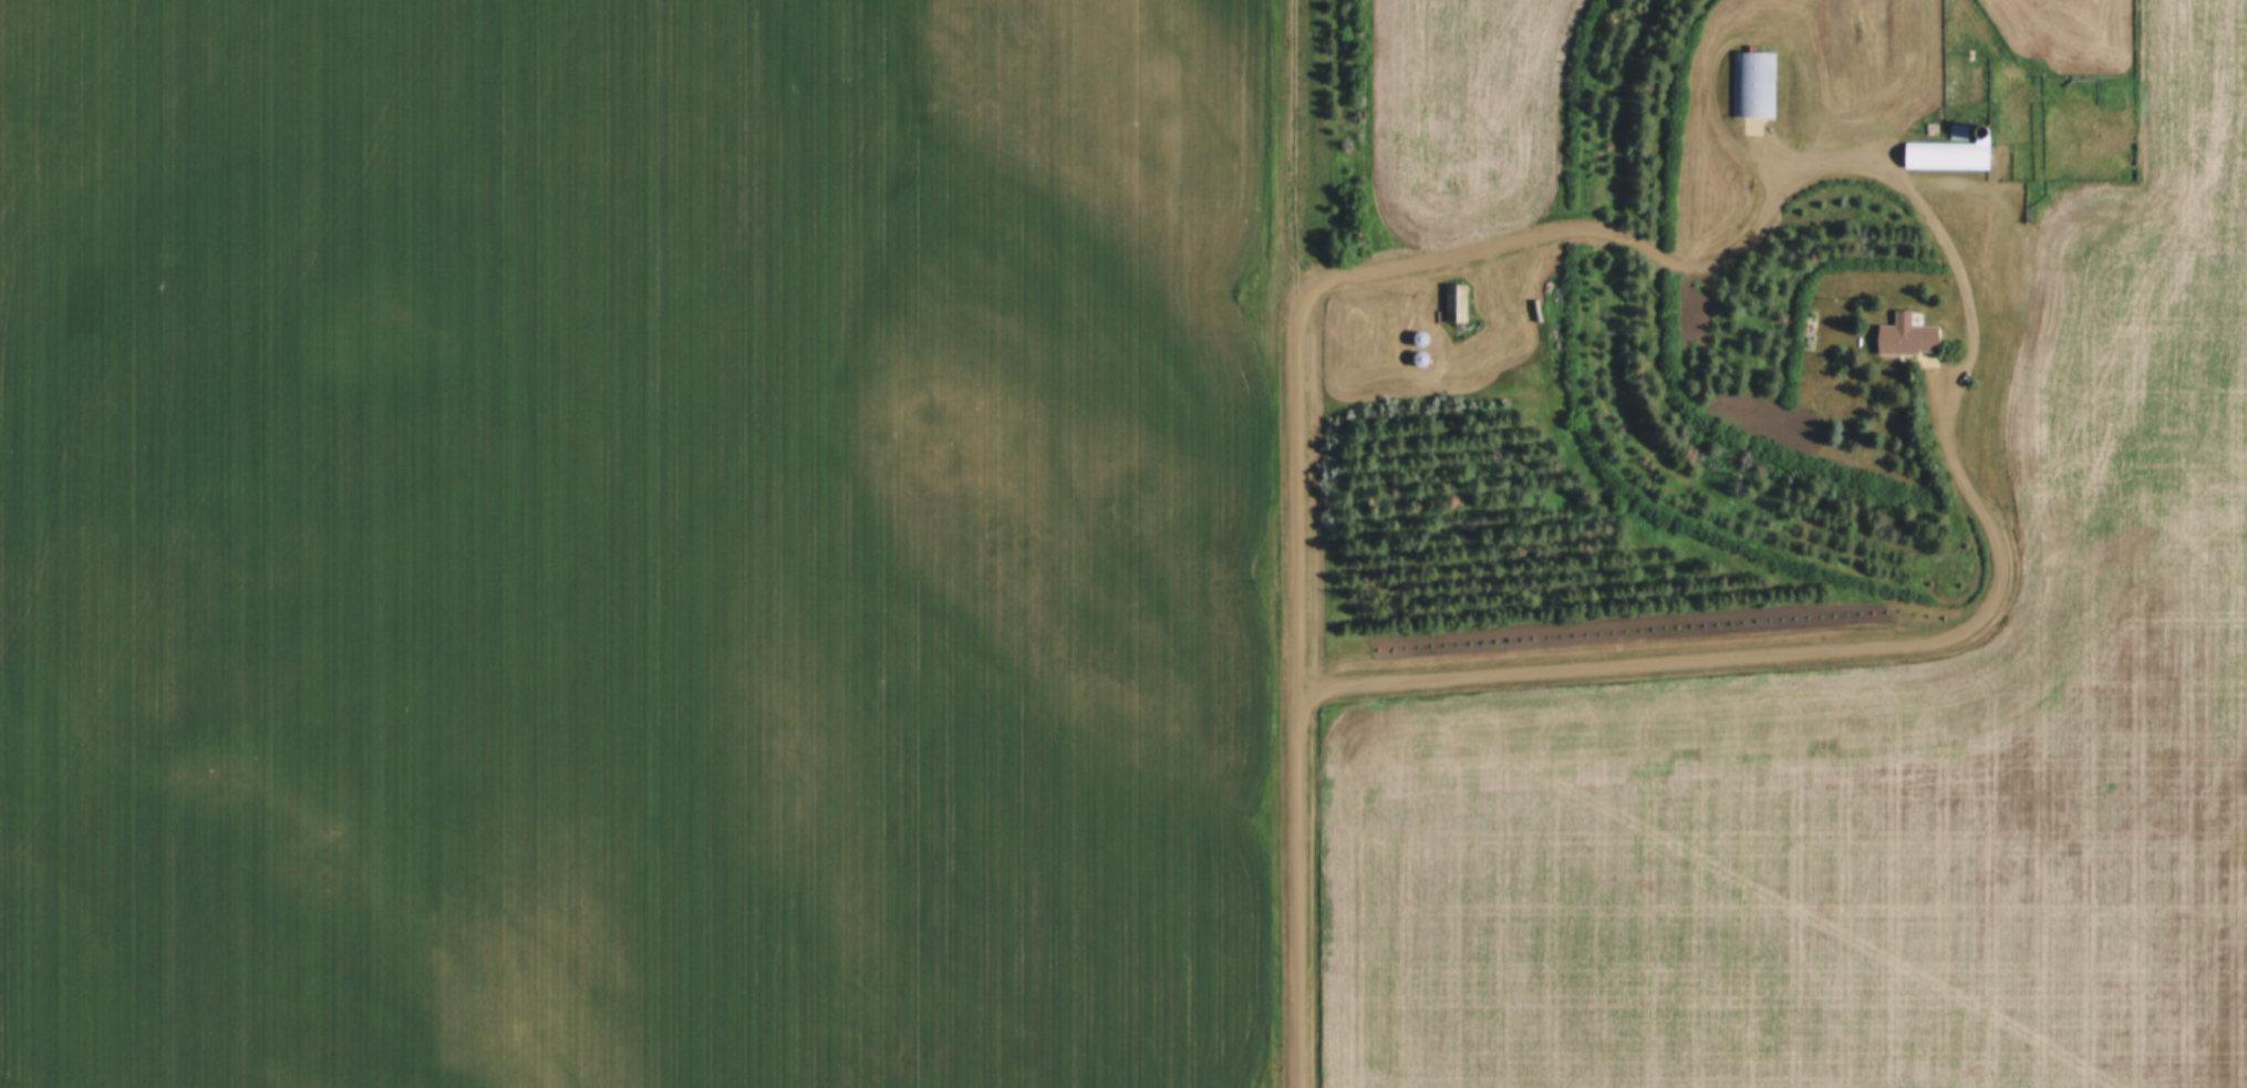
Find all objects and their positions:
building: (1754, 86)
building: (1957, 135)
road: (1296, 147)
building: (1945, 157)
building: (1456, 305)
building: (1418, 311)
building: (1906, 339)
road: (1946, 437)
road: (1299, 678)

